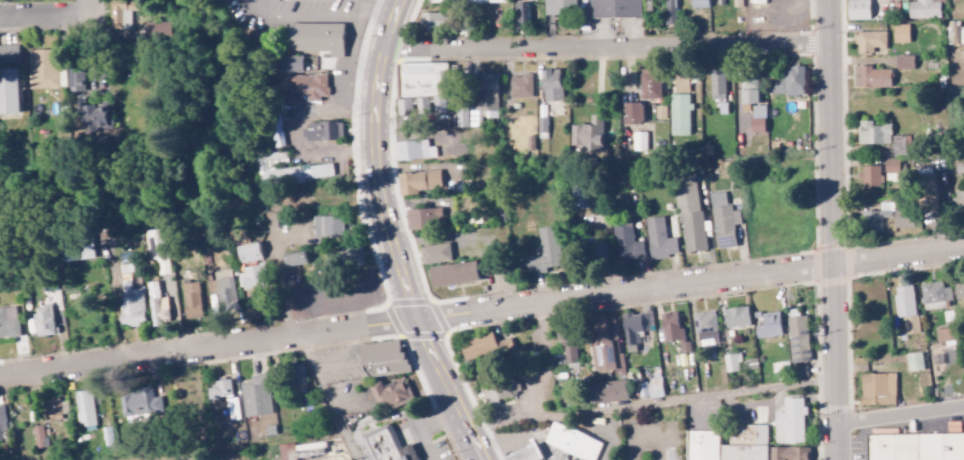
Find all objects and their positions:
building: (466, 2)
road: (83, 3)
building: (698, 3)
building: (559, 7)
building: (615, 8)
building: (858, 9)
building: (925, 9)
road: (41, 12)
building: (524, 12)
building: (670, 12)
building: (121, 13)
building: (158, 29)
building: (900, 33)
building: (318, 39)
building: (869, 41)
building: (8, 53)
road: (609, 55)
building: (904, 62)
building: (288, 64)
building: (42, 68)
building: (872, 77)
building: (75, 79)
building: (425, 81)
building: (788, 81)
building: (680, 82)
building: (551, 84)
building: (649, 84)
building: (717, 85)
building: (309, 86)
building: (520, 86)
building: (749, 90)
building: (8, 91)
building: (481, 101)
building: (438, 104)
building: (758, 110)
building: (632, 113)
building: (679, 114)
building: (96, 117)
building: (321, 131)
building: (588, 133)
building: (873, 133)
building: (639, 140)
building: (413, 150)
building: (891, 170)
building: (290, 171)
building: (870, 177)
building: (419, 181)
building: (927, 193)
road: (380, 197)
building: (960, 201)
building: (581, 202)
building: (690, 213)
building: (876, 216)
building: (423, 217)
building: (903, 219)
building: (723, 221)
building: (327, 226)
road: (832, 230)
building: (659, 238)
building: (627, 243)
building: (156, 248)
building: (594, 248)
building: (77, 251)
building: (248, 252)
building: (543, 252)
building: (434, 253)
building: (294, 258)
building: (350, 258)
building: (453, 273)
building: (250, 277)
road: (688, 284)
building: (225, 290)
building: (959, 292)
building: (934, 296)
building: (191, 300)
building: (905, 307)
building: (132, 308)
building: (736, 317)
building: (43, 321)
building: (8, 322)
building: (769, 325)
building: (705, 326)
building: (635, 328)
building: (673, 331)
building: (945, 334)
building: (798, 339)
building: (485, 346)
building: (567, 347)
road: (206, 348)
building: (382, 360)
building: (731, 362)
building: (914, 362)
building: (654, 386)
building: (497, 389)
building: (877, 389)
building: (609, 391)
building: (391, 395)
building: (256, 396)
building: (224, 397)
building: (140, 401)
road: (651, 407)
building: (52, 409)
building: (84, 409)
road: (453, 411)
road: (902, 417)
building: (2, 418)
building: (790, 422)
road: (418, 425)
building: (39, 436)
building: (0, 437)
road: (502, 443)
building: (575, 443)
building: (727, 445)
building: (386, 446)
building: (917, 447)
road: (471, 448)
road: (242, 449)
building: (287, 452)
building: (788, 453)
building: (531, 454)
building: (246, 459)

